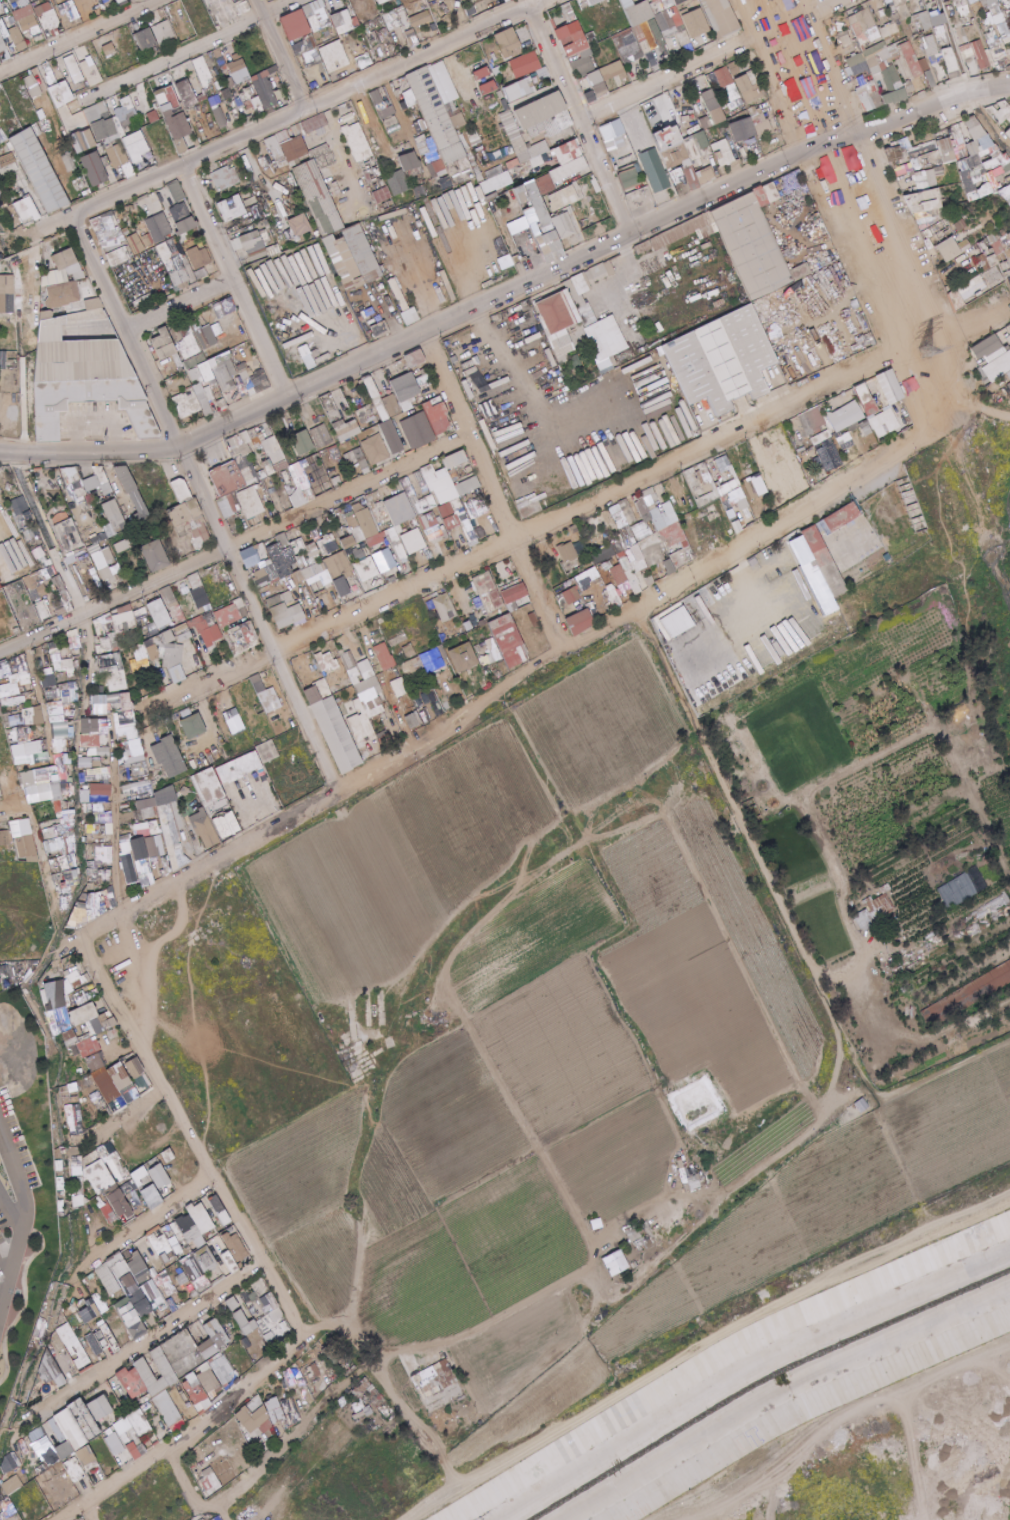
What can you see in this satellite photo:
power tower: (927, 350)
crop: (601, 734)
crop: (410, 857)
crop: (683, 970)
crop: (566, 1037)
crop: (303, 1168)
crop: (456, 1202)
crop: (328, 1261)
crop: (521, 1359)

